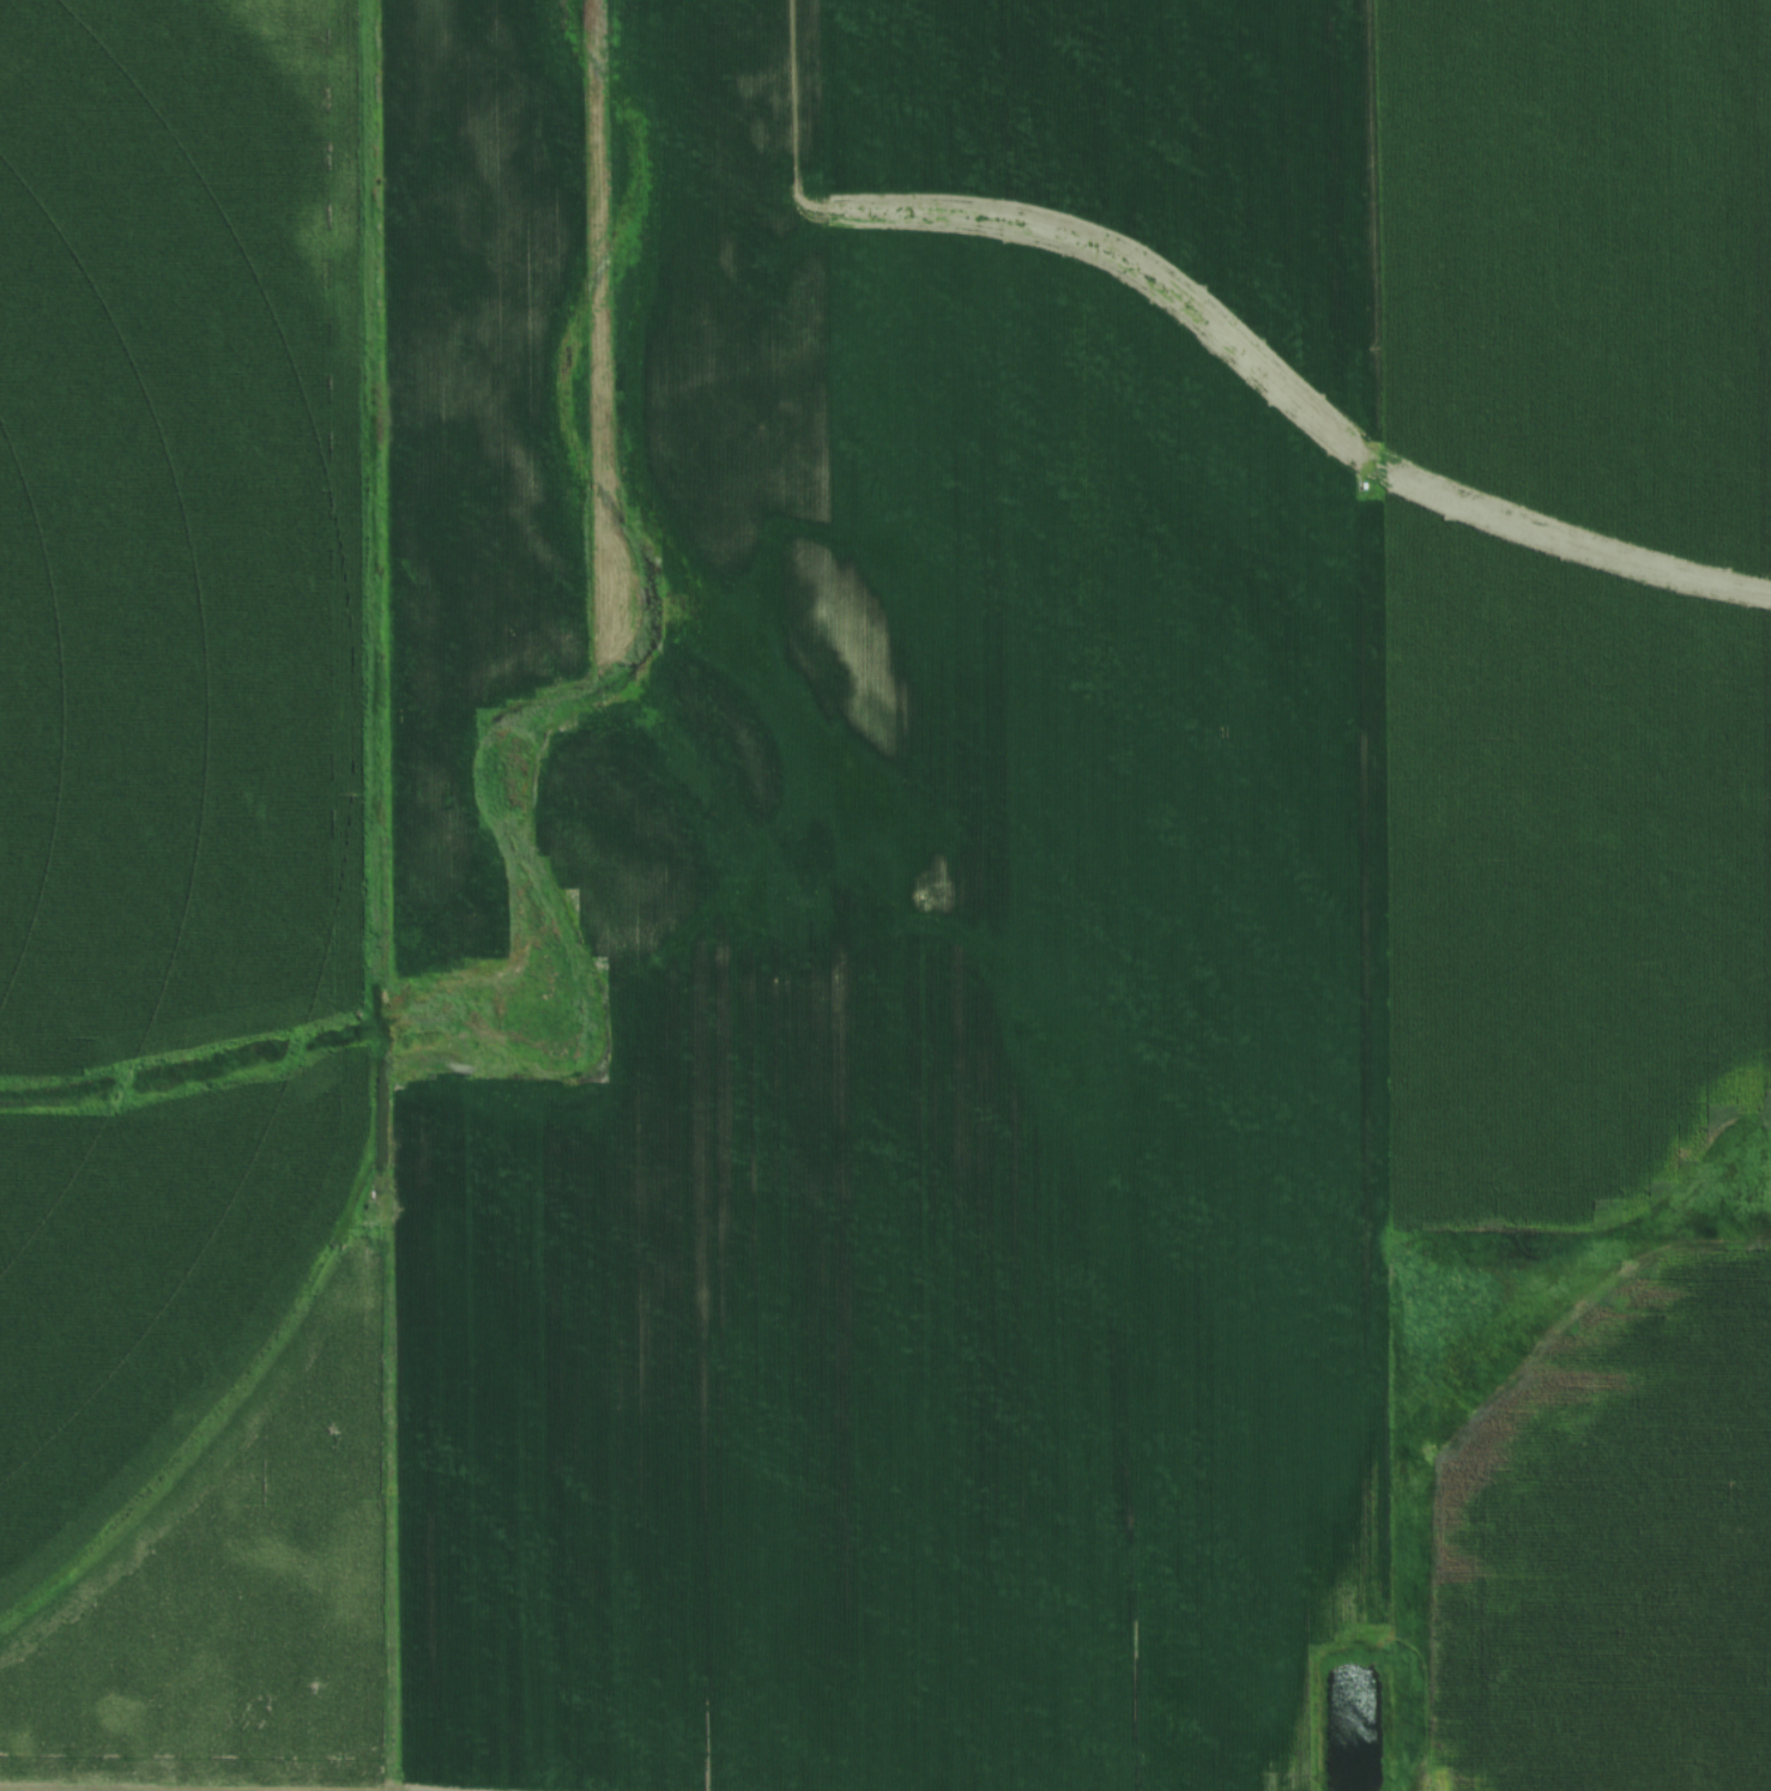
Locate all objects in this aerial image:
crop: (1613, 1543)

